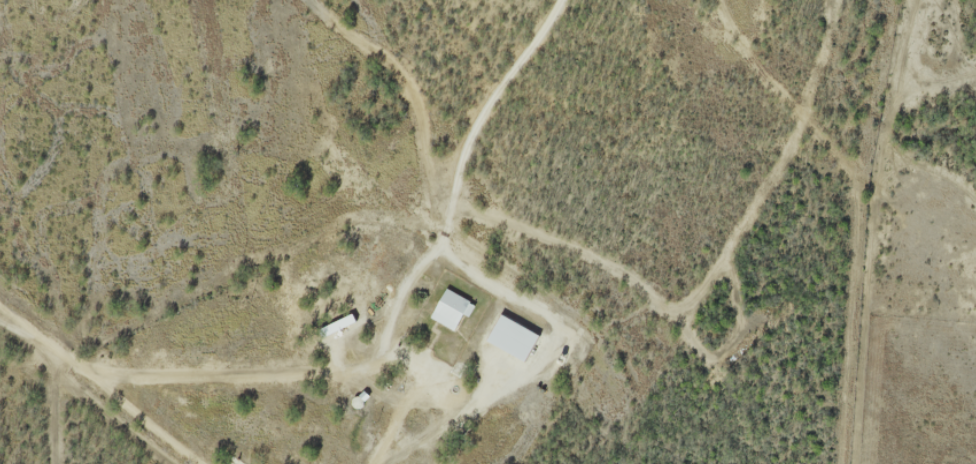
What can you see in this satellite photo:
building: (451, 309)
road: (319, 376)
road: (101, 383)

